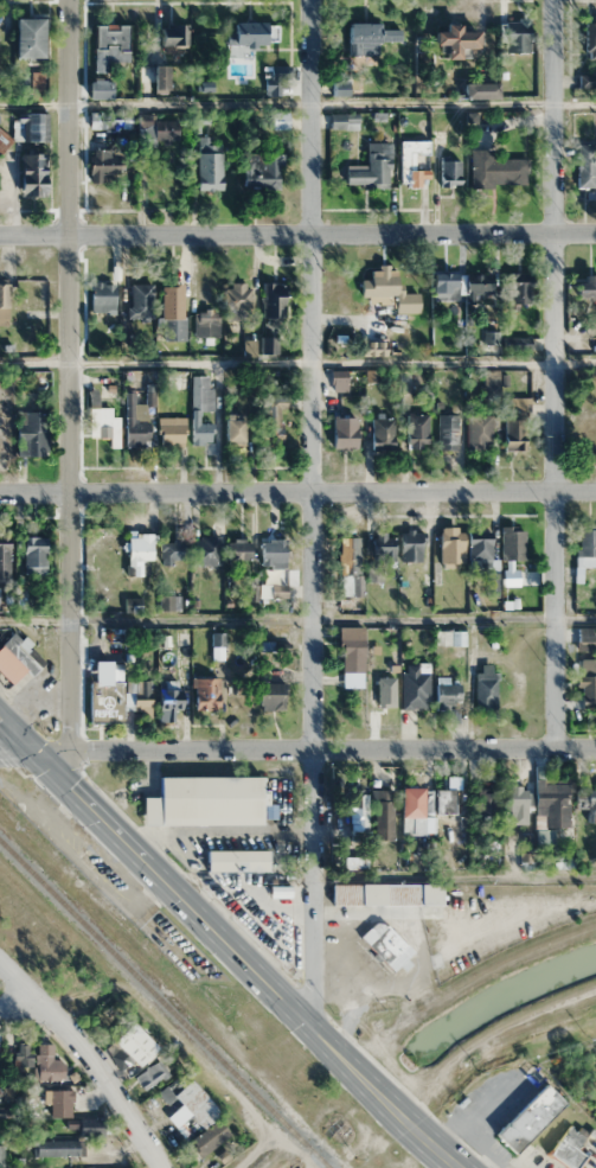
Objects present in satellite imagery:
building: (243, 32)
building: (515, 36)
building: (590, 36)
building: (27, 37)
building: (172, 37)
building: (367, 37)
building: (453, 39)
building: (109, 44)
building: (156, 72)
building: (507, 81)
building: (37, 84)
building: (97, 88)
building: (479, 90)
road: (297, 102)
building: (117, 120)
building: (278, 120)
building: (32, 126)
building: (162, 128)
building: (411, 162)
building: (207, 164)
building: (585, 165)
building: (107, 166)
building: (495, 170)
building: (261, 171)
building: (367, 171)
building: (31, 172)
building: (449, 172)
road: (297, 237)
building: (459, 285)
building: (584, 287)
building: (33, 293)
building: (518, 293)
building: (237, 295)
building: (101, 296)
building: (271, 299)
building: (140, 300)
building: (382, 304)
building: (173, 312)
building: (205, 325)
road: (297, 362)
road: (551, 372)
road: (68, 375)
building: (199, 408)
building: (275, 414)
building: (101, 422)
building: (136, 423)
building: (233, 428)
building: (513, 429)
building: (169, 430)
building: (416, 430)
building: (446, 430)
building: (478, 430)
building: (342, 432)
building: (31, 433)
building: (382, 433)
building: (5, 439)
road: (297, 496)
road: (316, 513)
building: (511, 543)
building: (449, 544)
building: (382, 545)
building: (409, 545)
building: (585, 545)
building: (239, 548)
building: (478, 548)
building: (204, 549)
building: (168, 551)
building: (271, 551)
building: (137, 553)
building: (33, 555)
building: (4, 559)
building: (348, 563)
road: (297, 619)
building: (350, 656)
building: (19, 657)
building: (587, 683)
building: (414, 688)
building: (485, 689)
building: (204, 692)
building: (386, 692)
building: (446, 692)
building: (140, 694)
building: (167, 694)
building: (269, 695)
building: (104, 701)
road: (332, 746)
traffic signals: (32, 748)
road: (34, 748)
traffic signals: (69, 751)
building: (203, 800)
building: (443, 802)
building: (411, 803)
building: (485, 803)
building: (514, 803)
building: (551, 803)
building: (589, 805)
building: (357, 812)
building: (383, 813)
building: (235, 860)
road: (454, 876)
building: (384, 893)
building: (30, 925)
road: (227, 944)
building: (384, 944)
road: (20, 1003)
railway: (165, 1003)
building: (134, 1043)
building: (21, 1054)
road: (89, 1057)
building: (46, 1062)
building: (150, 1074)
building: (5, 1092)
building: (57, 1100)
building: (200, 1117)
building: (527, 1117)
building: (1, 1125)
building: (89, 1125)
building: (56, 1147)
building: (568, 1148)
building: (0, 1154)

